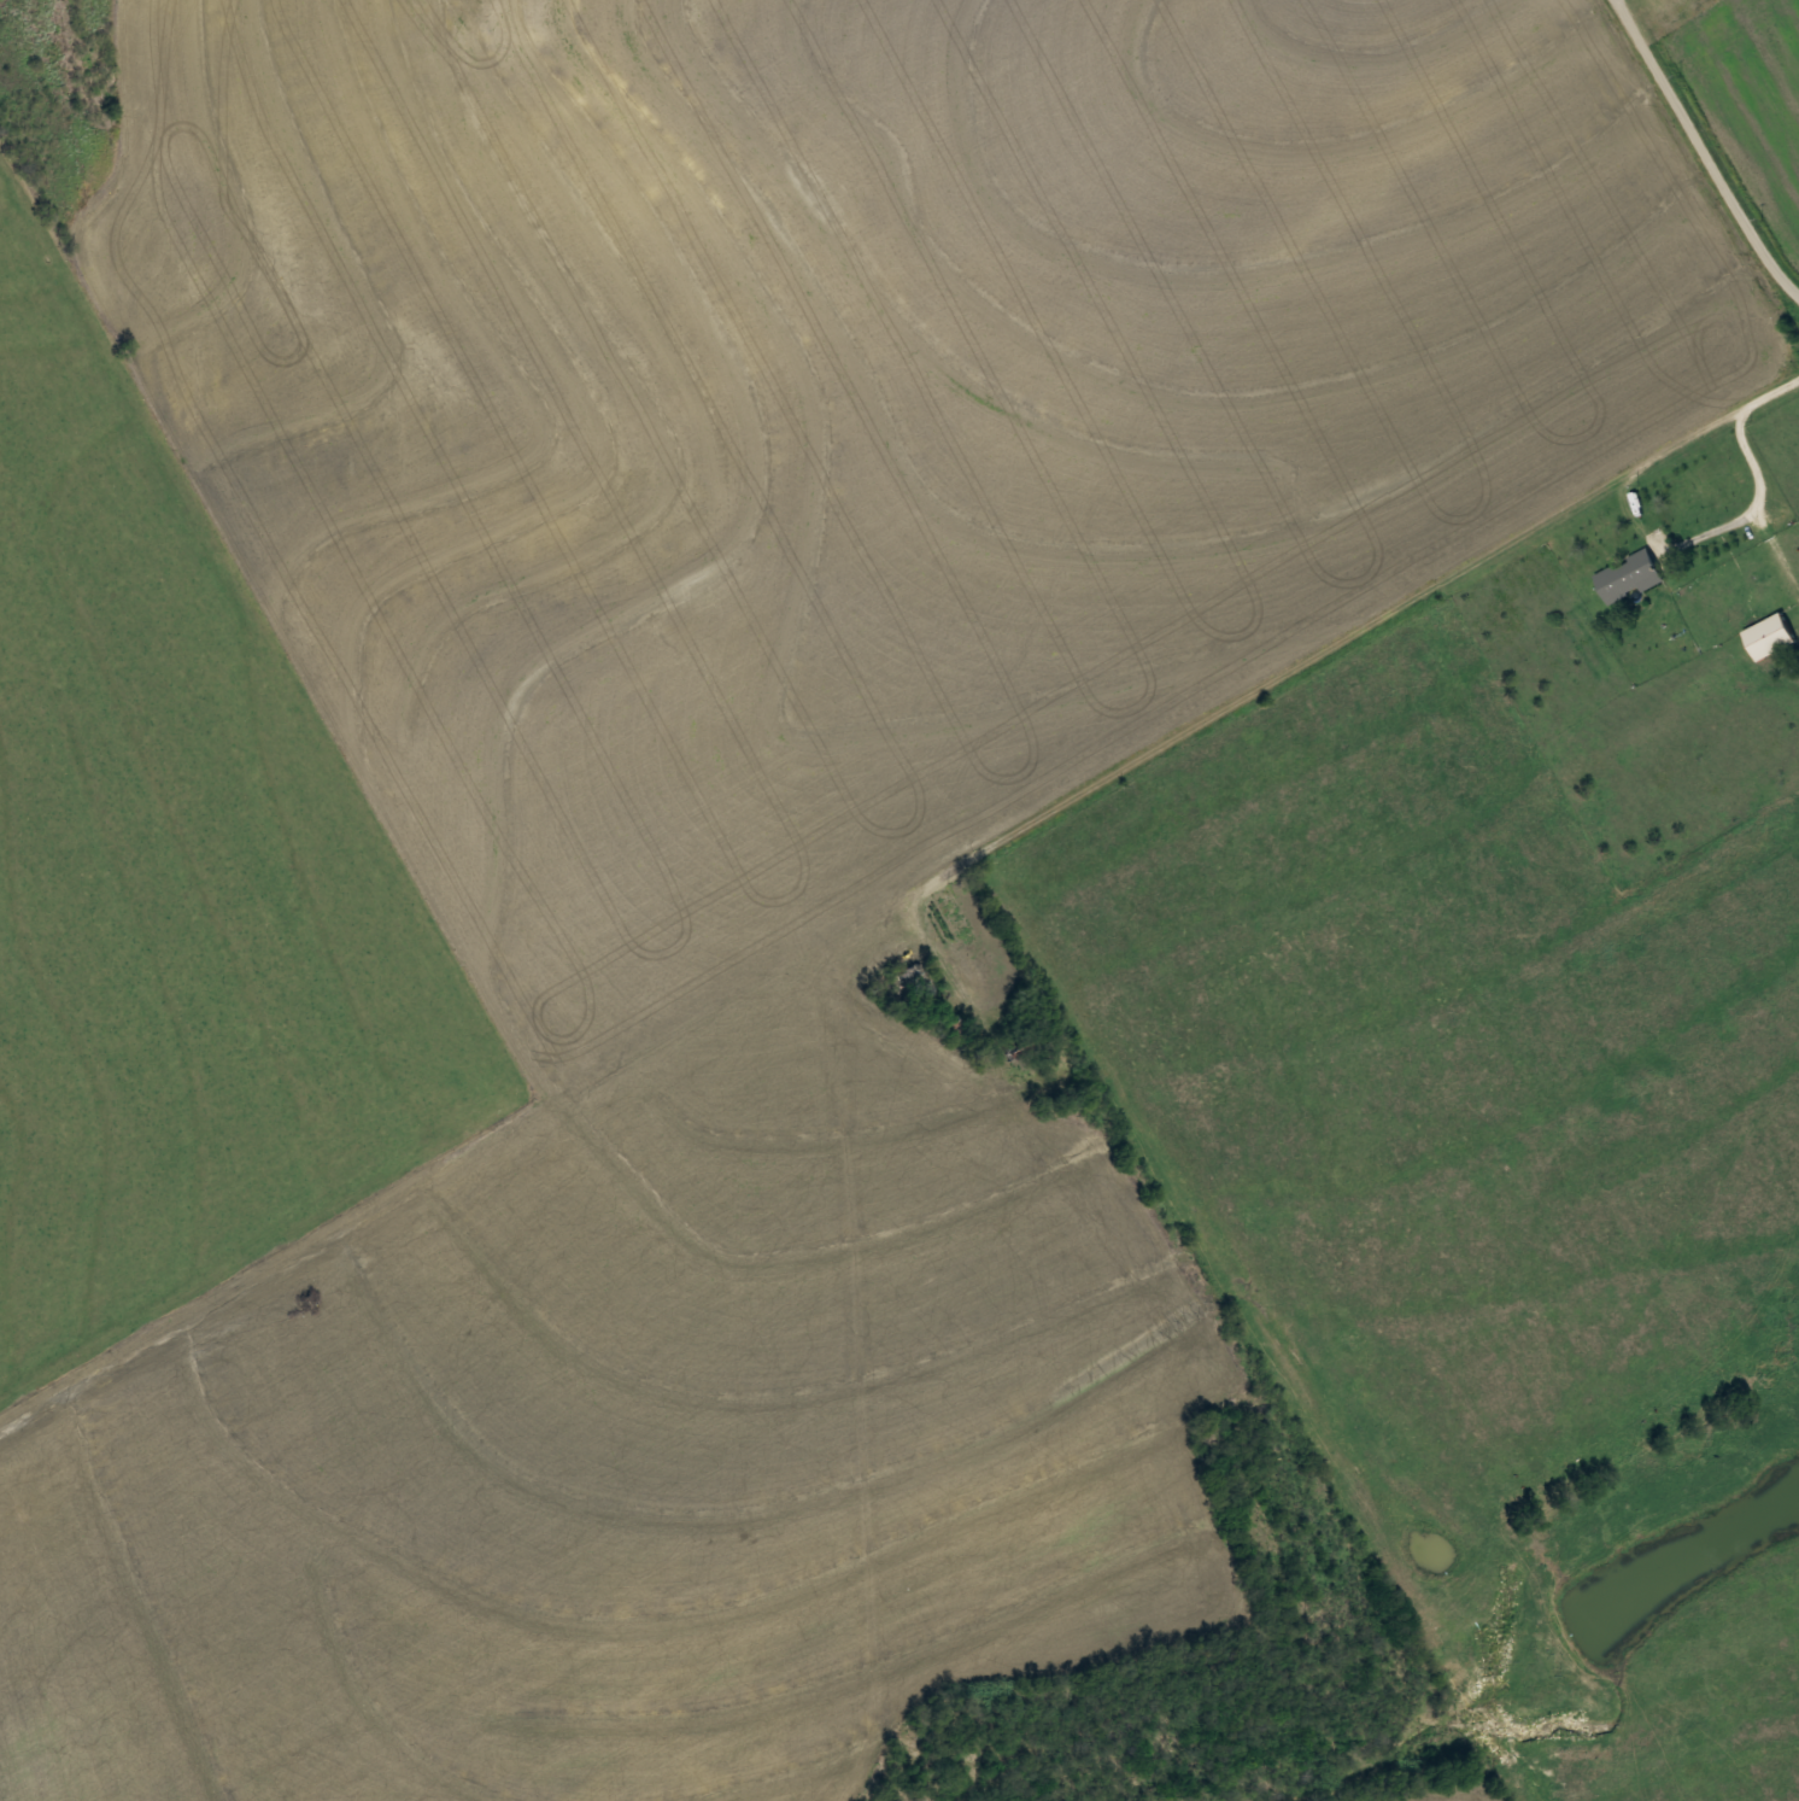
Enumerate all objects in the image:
road: (1705, 148)
building: (1630, 577)
building: (1770, 636)
road: (1053, 764)
building: (915, 982)

